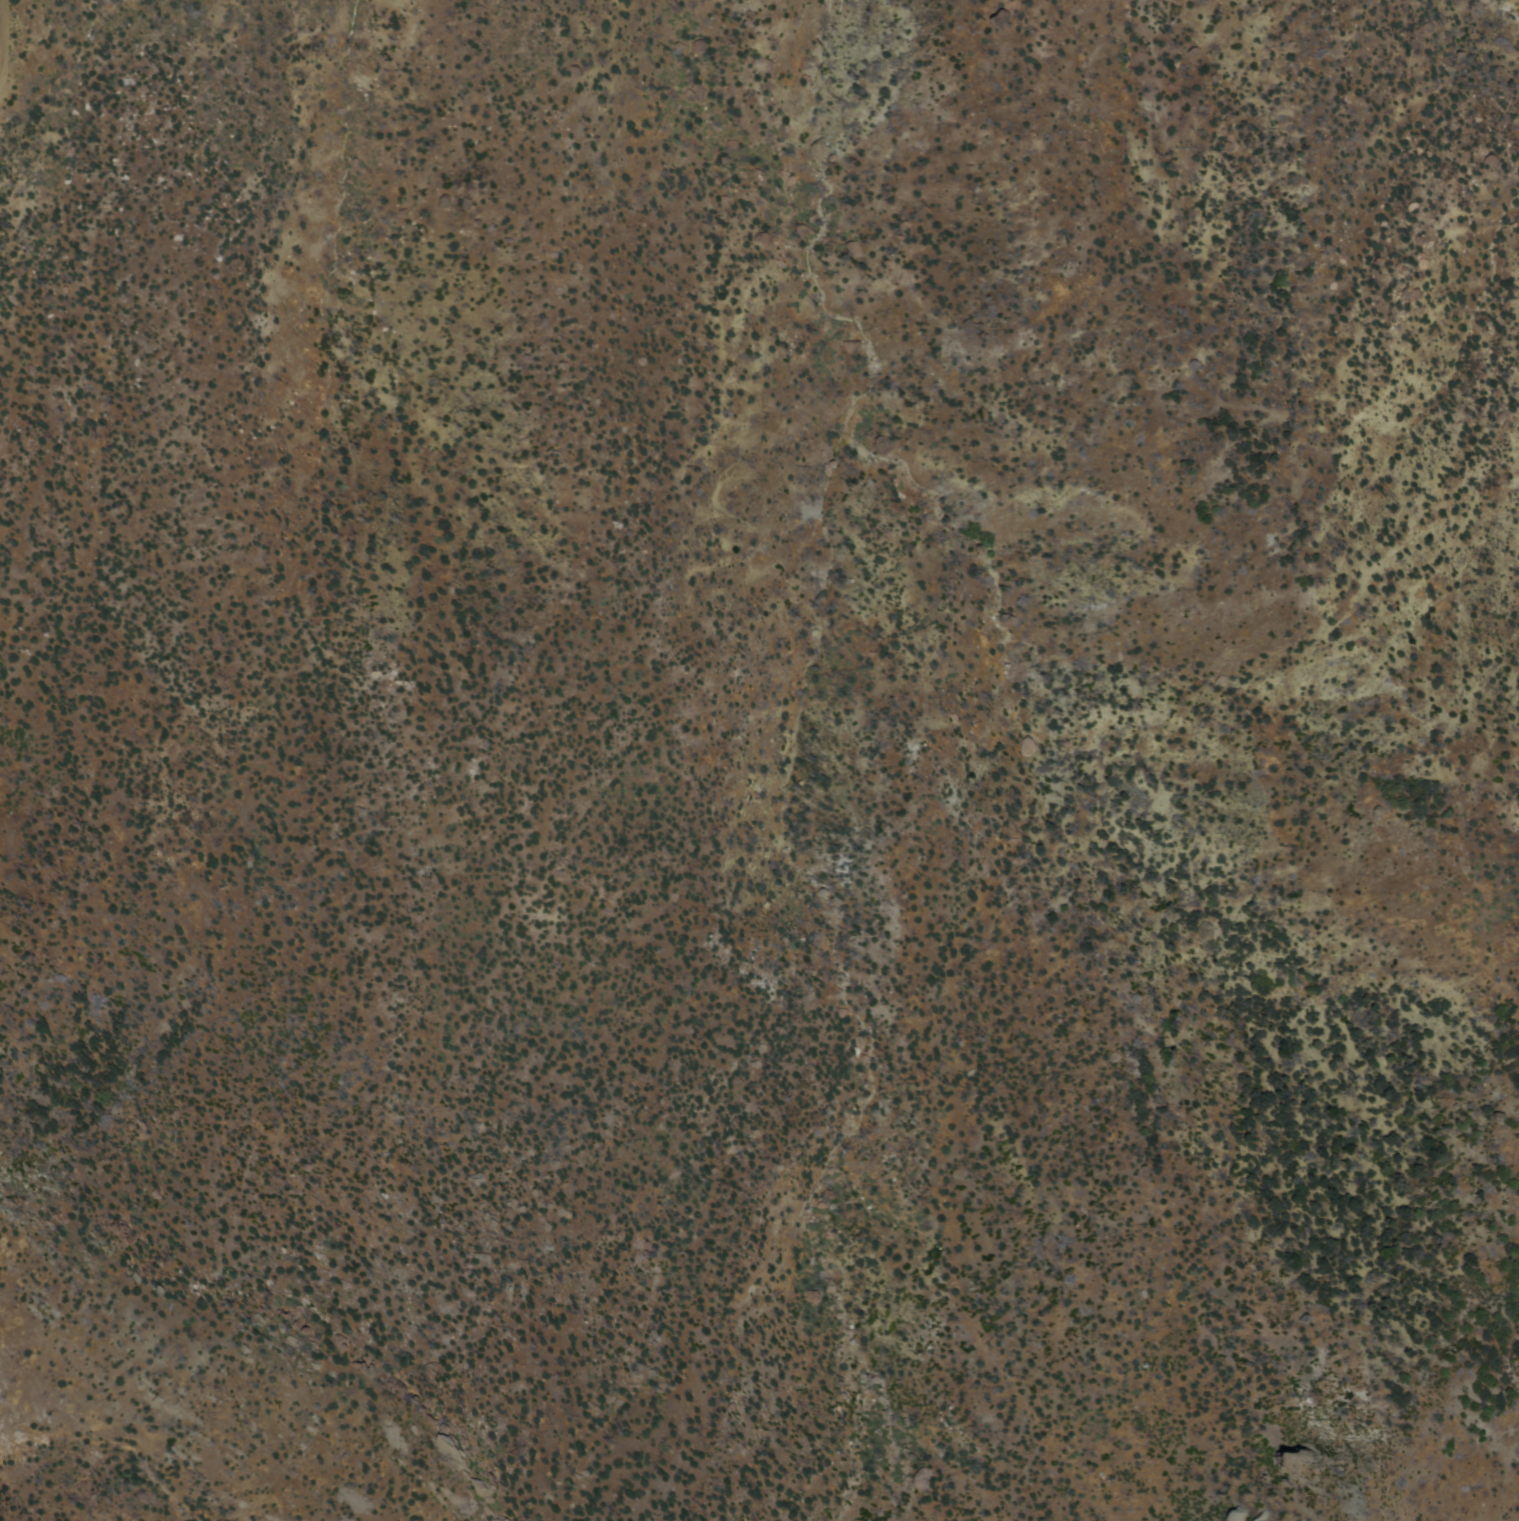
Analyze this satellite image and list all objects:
road: (16, 51)

